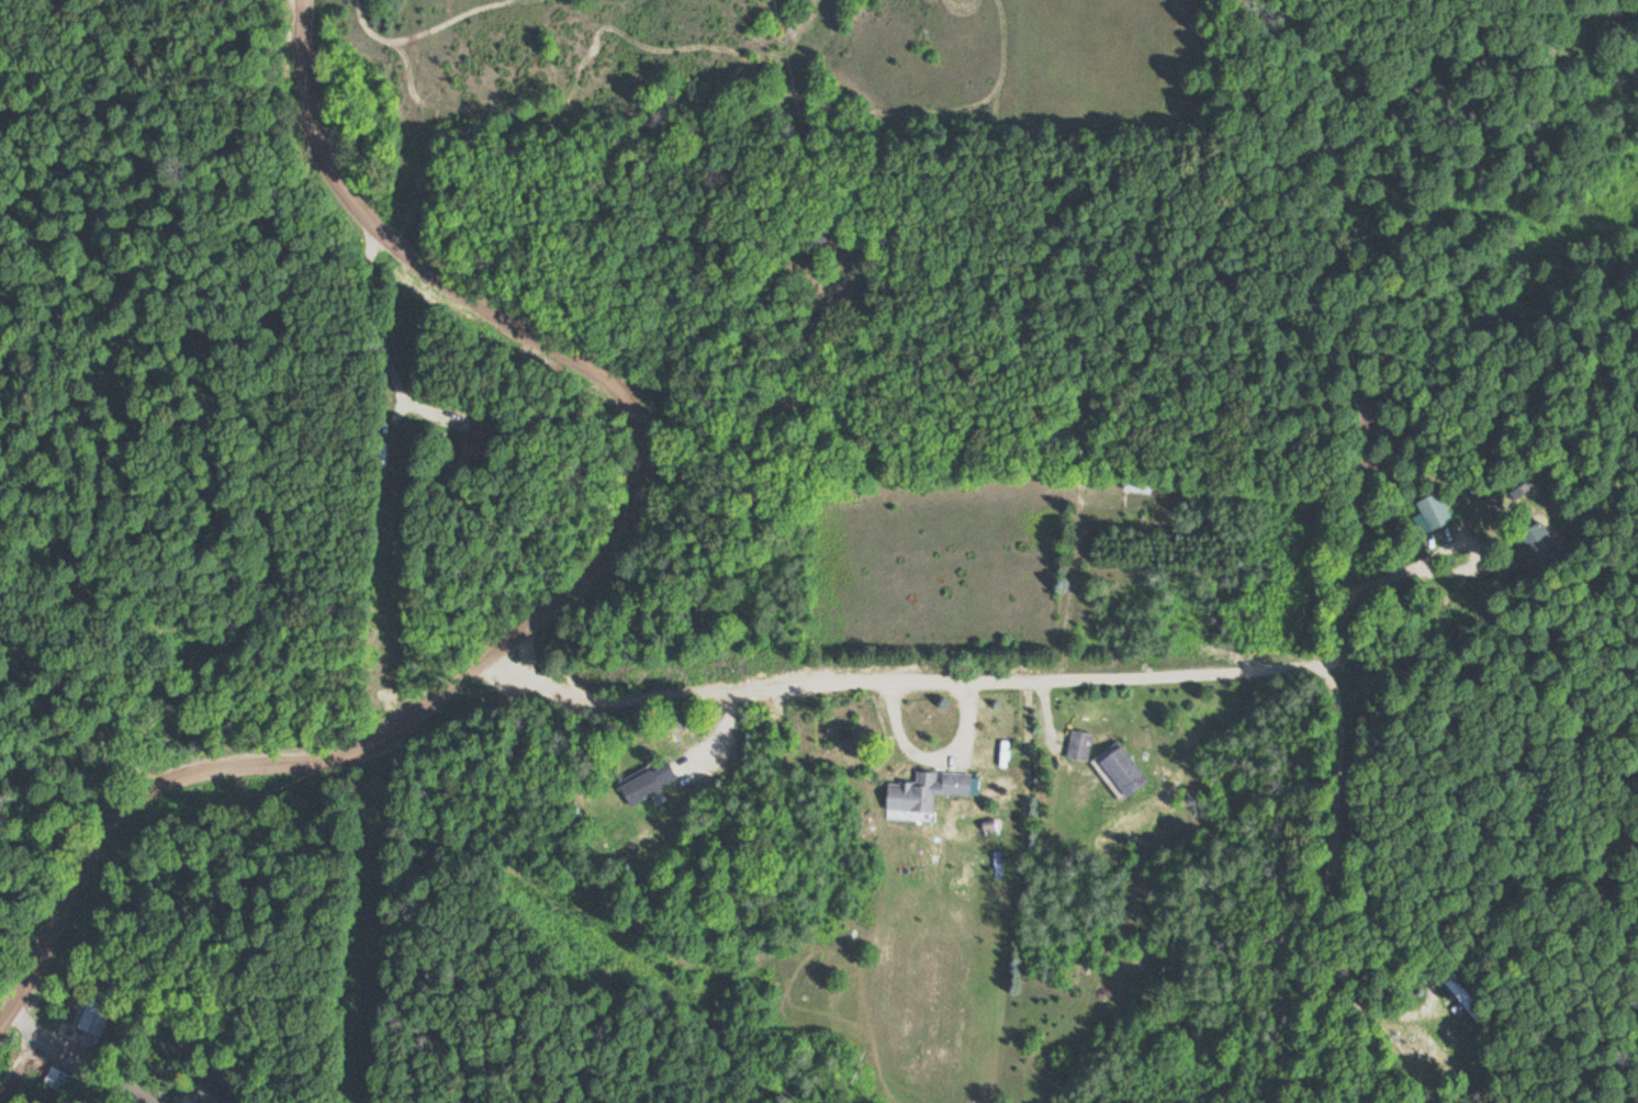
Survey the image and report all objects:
building: (472, 438)
building: (1057, 438)
building: (1134, 482)
building: (1428, 511)
building: (1532, 550)
road: (573, 581)
road: (992, 679)
building: (1076, 744)
building: (1119, 769)
building: (646, 781)
building: (925, 789)
building: (94, 1016)
building: (51, 1076)
building: (198, 1092)

